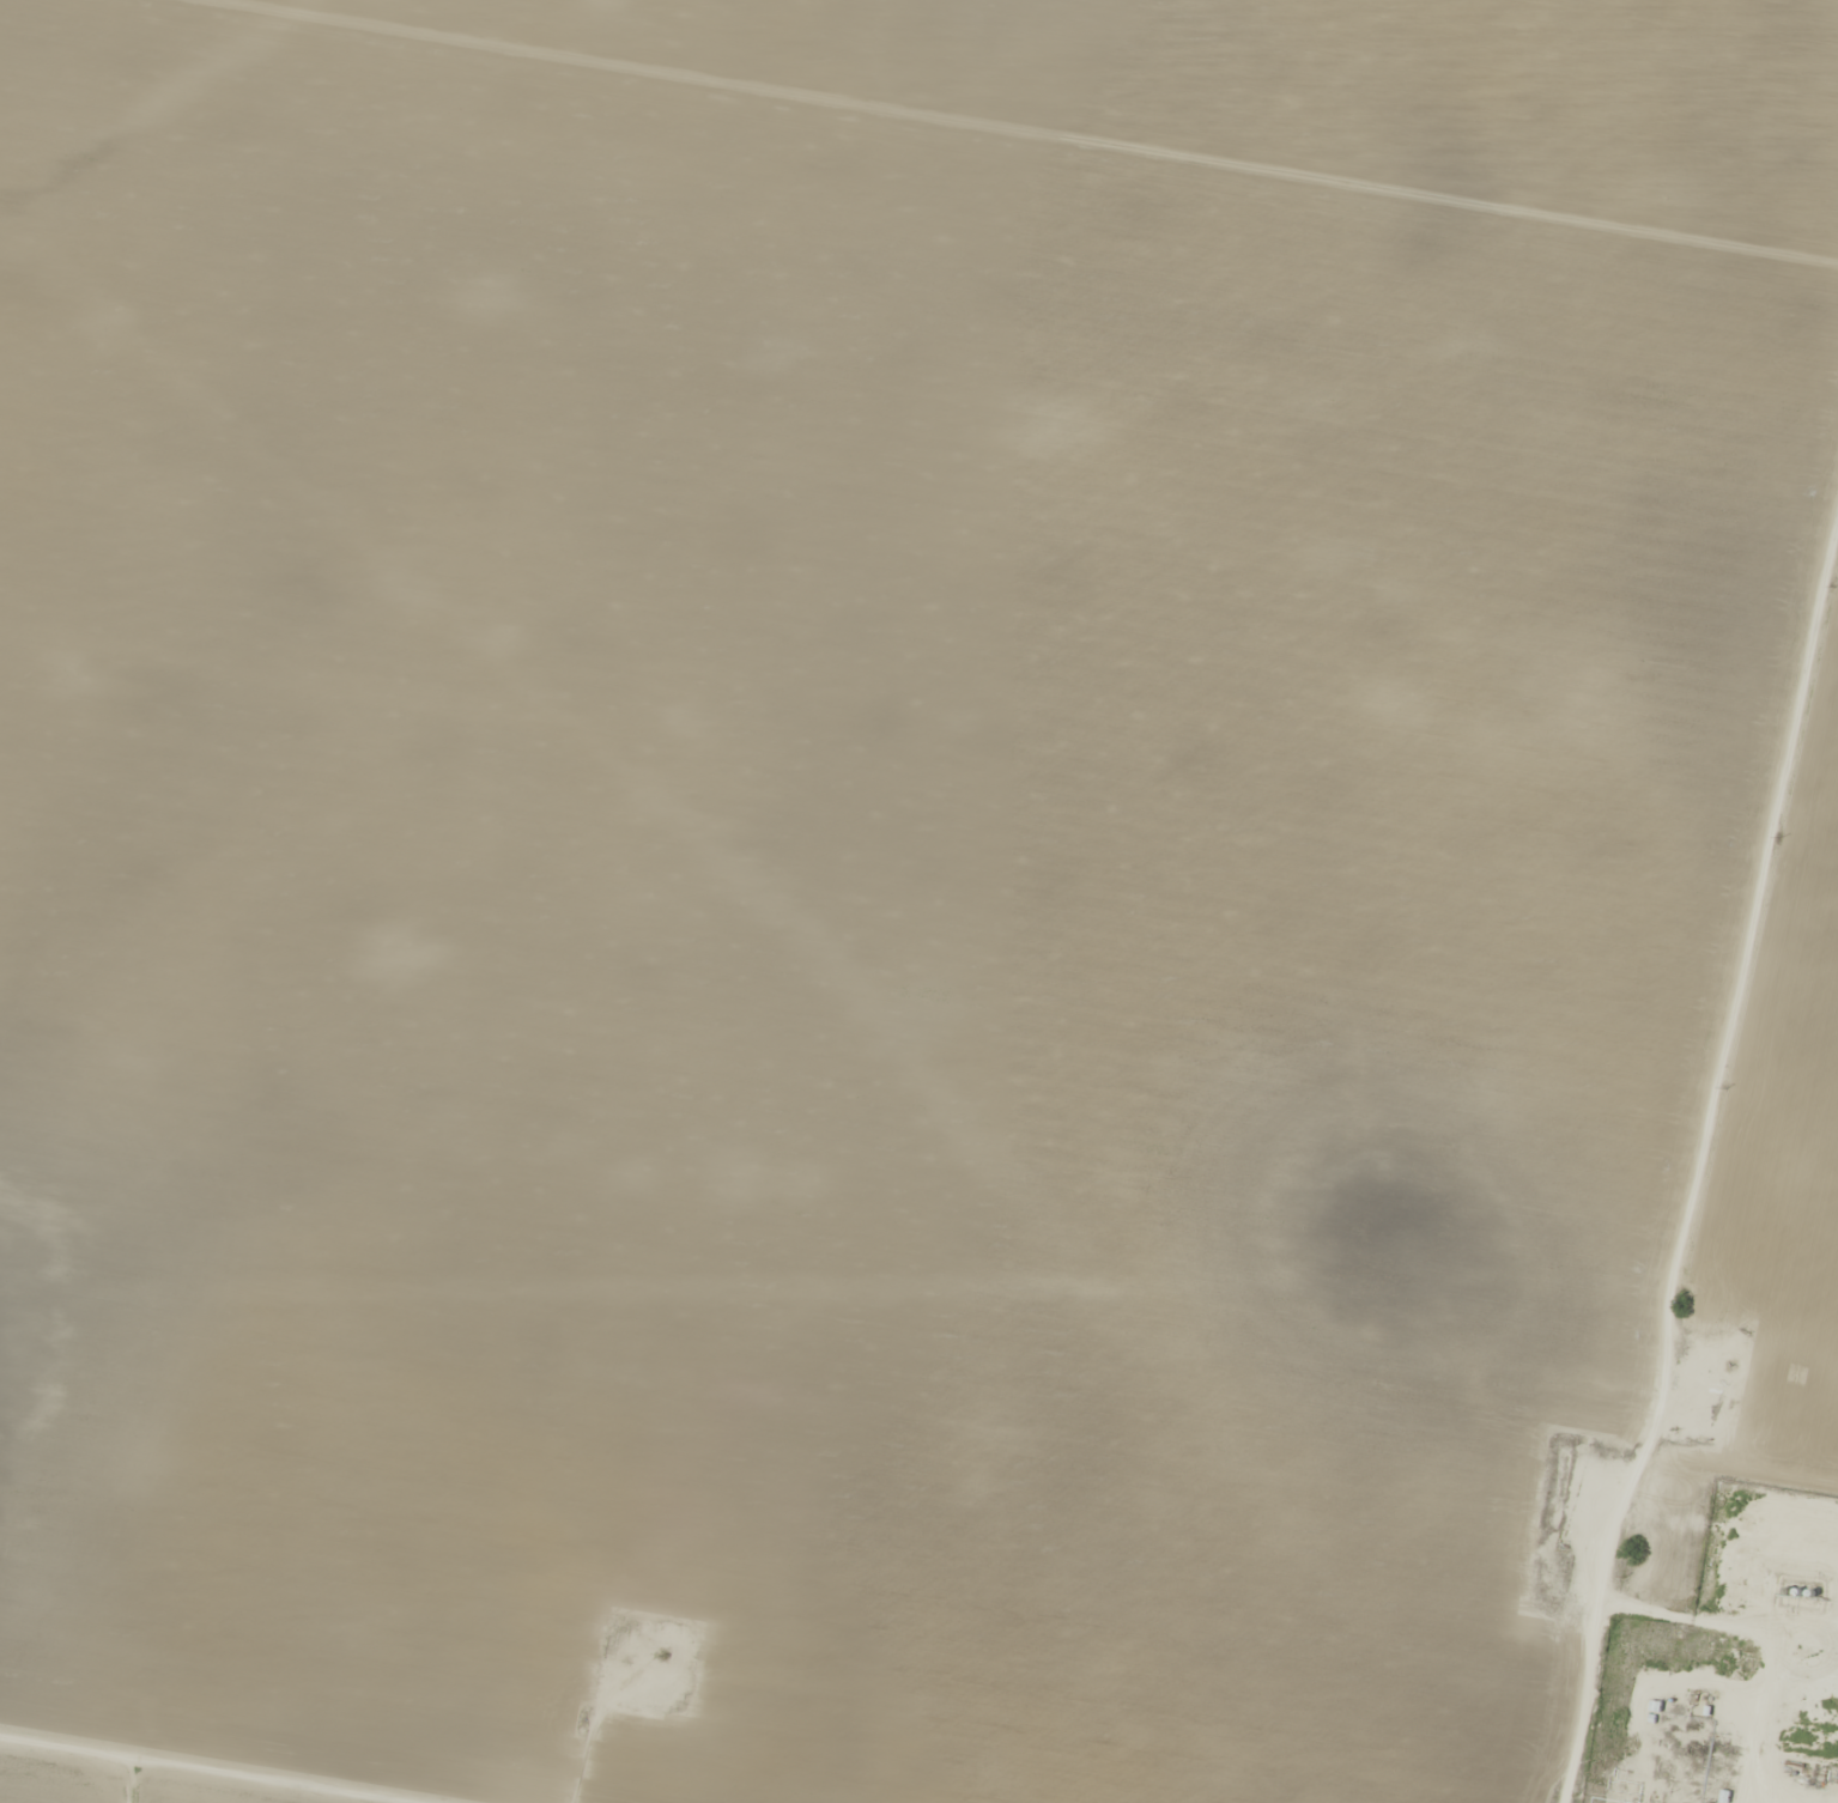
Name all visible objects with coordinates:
building: (796, 1622)
road: (156, 1775)

